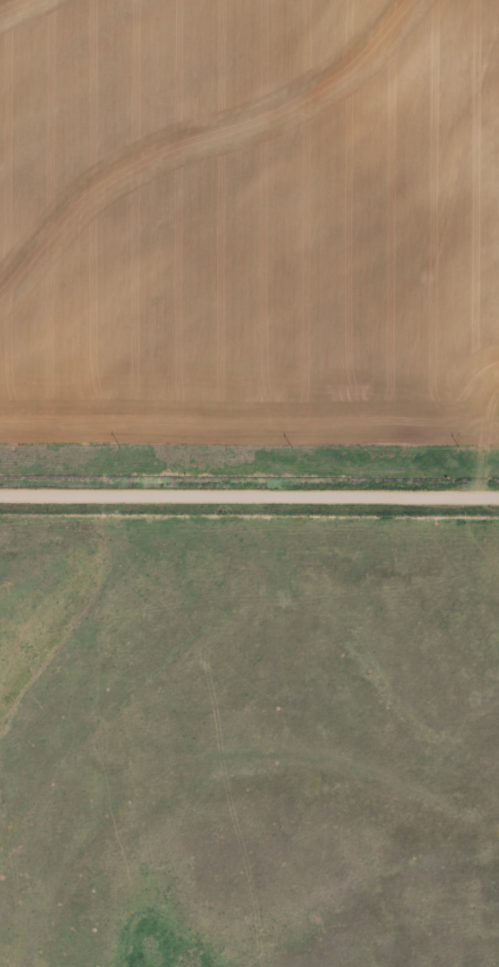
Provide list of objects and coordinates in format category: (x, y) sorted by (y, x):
road: (249, 495)

